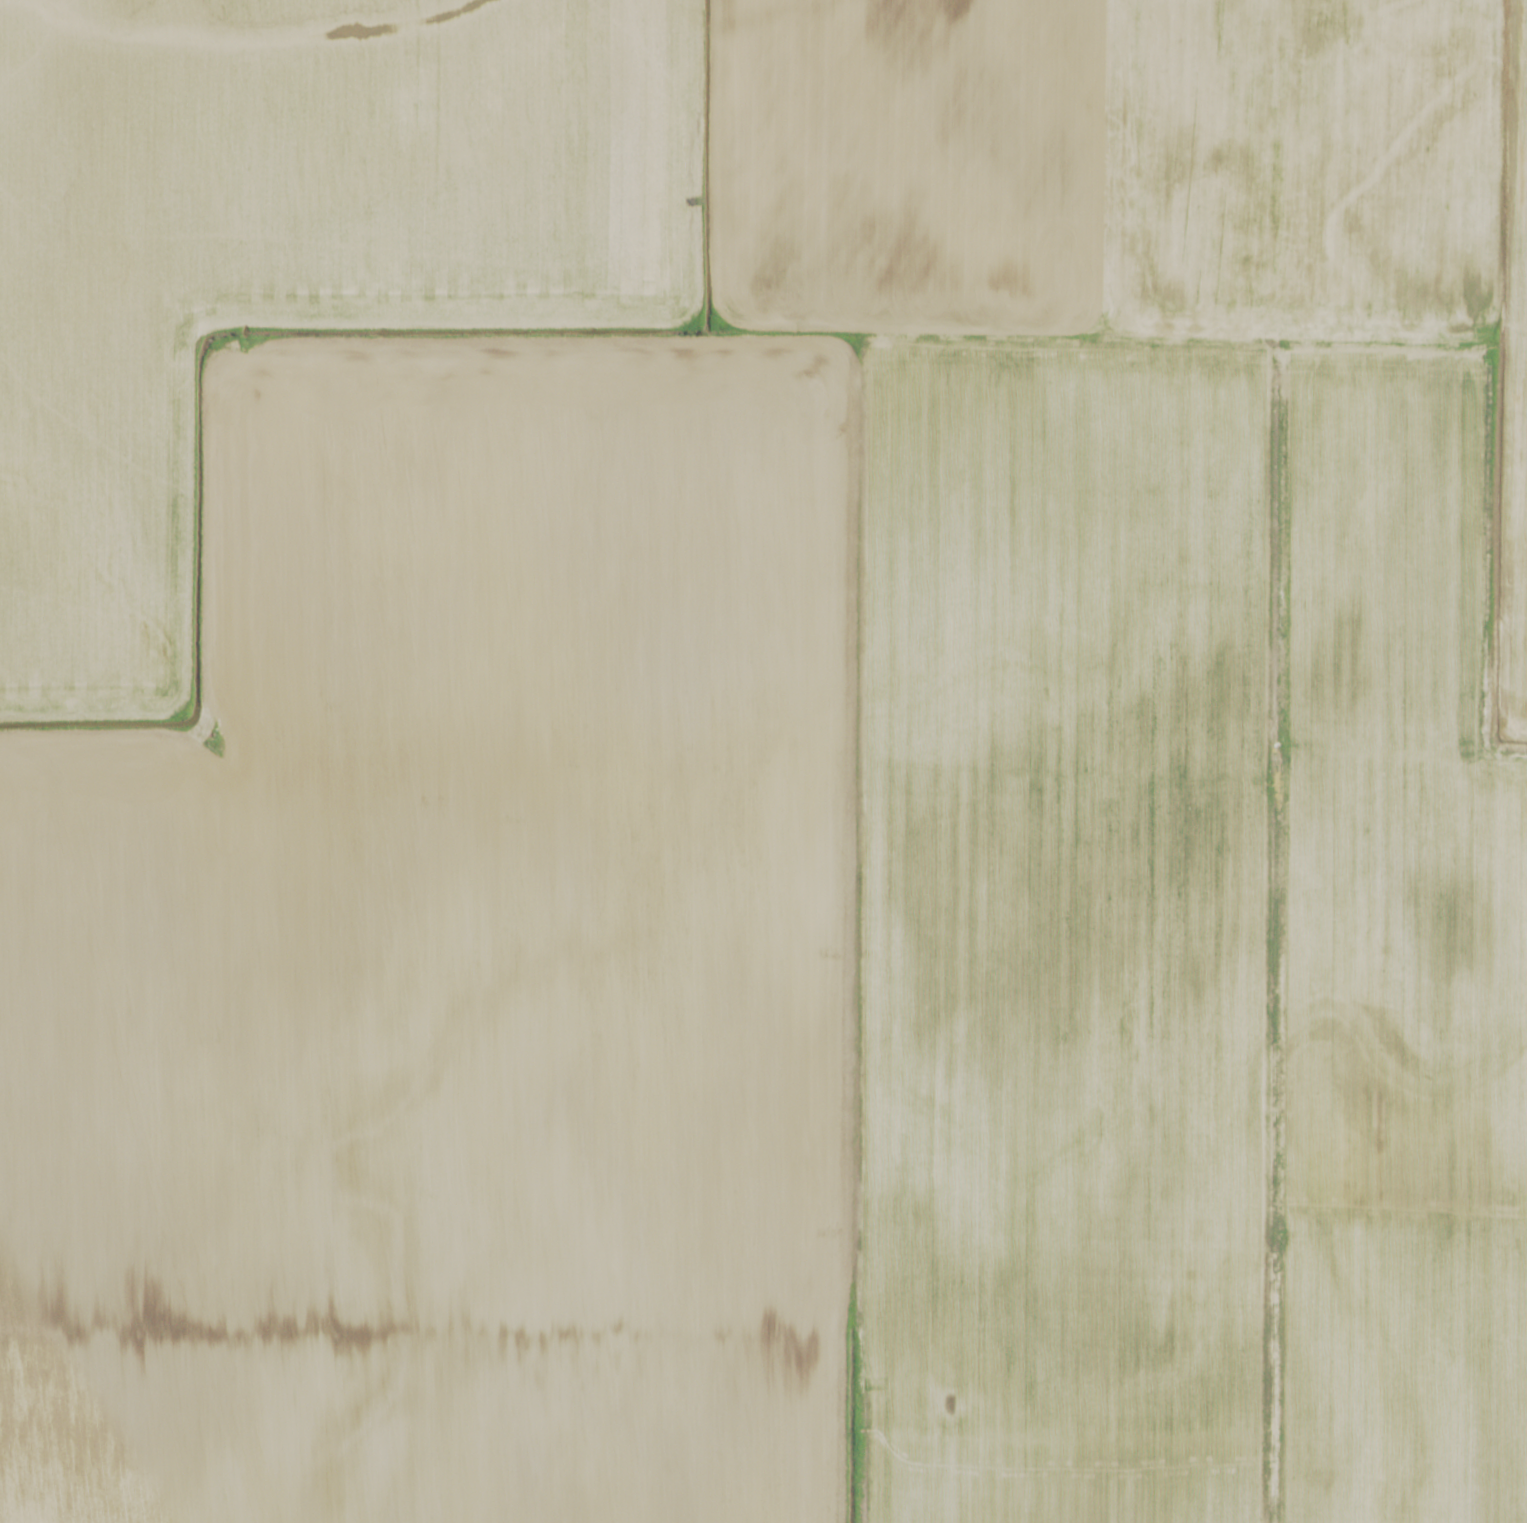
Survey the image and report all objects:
road: (1507, 651)

